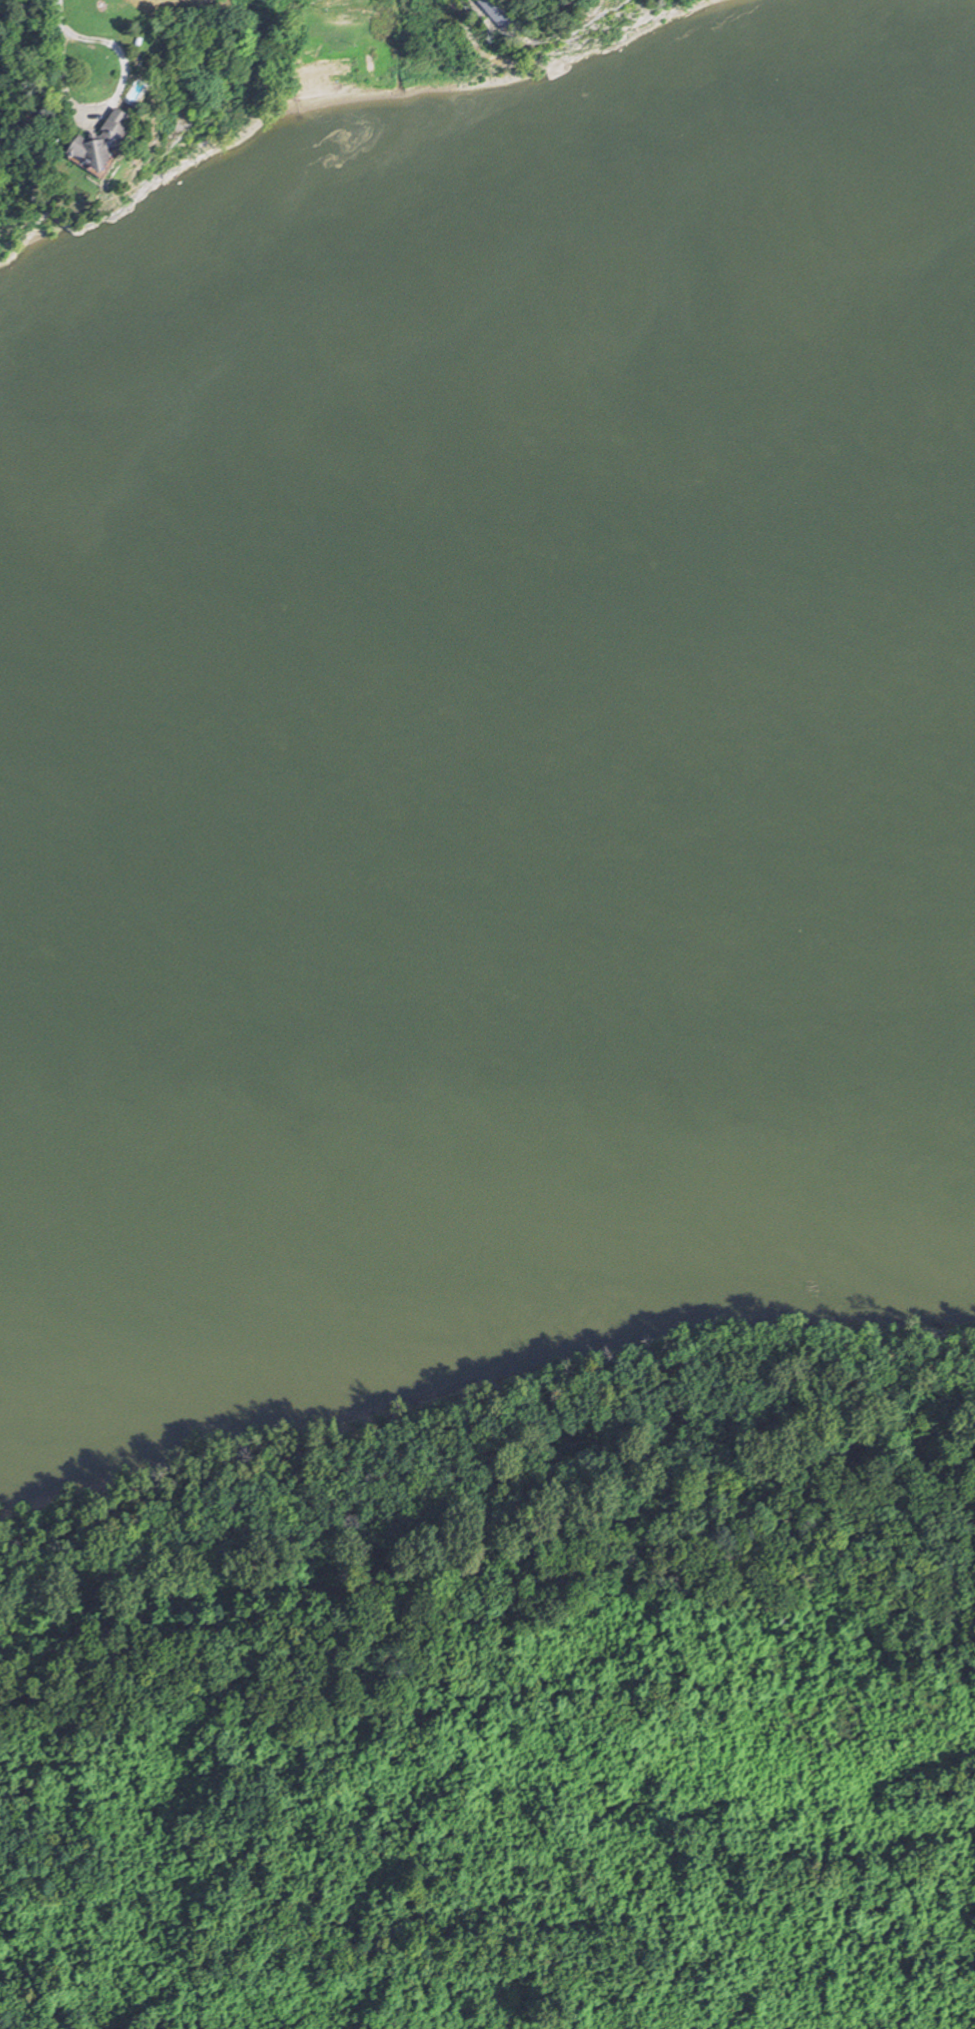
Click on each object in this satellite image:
building: (498, 13)
road: (61, 17)
road: (470, 33)
building: (94, 79)
road: (117, 102)
building: (100, 143)
river: (486, 829)

